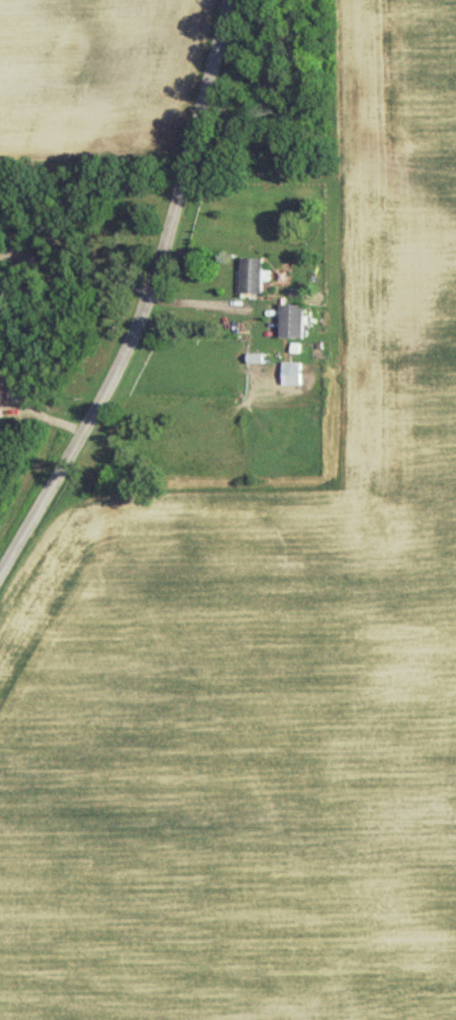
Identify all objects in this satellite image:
building: (252, 274)
road: (147, 296)
road: (190, 302)
building: (289, 319)
building: (253, 356)
building: (289, 372)
building: (1, 393)

